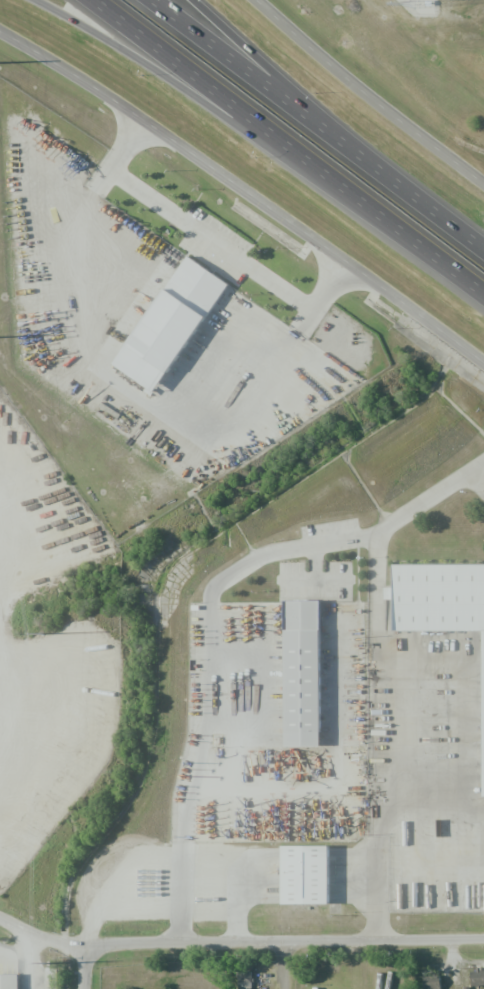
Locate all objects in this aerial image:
road: (140, 54)
road: (258, 62)
road: (370, 91)
road: (319, 120)
road: (289, 150)
road: (243, 197)
building: (167, 346)
building: (444, 603)
power tower: (40, 635)
building: (308, 680)
building: (312, 877)
road: (41, 937)
road: (281, 941)
power tower: (46, 964)
road: (82, 972)
building: (477, 978)
building: (244, 979)
building: (9, 981)
building: (431, 982)

